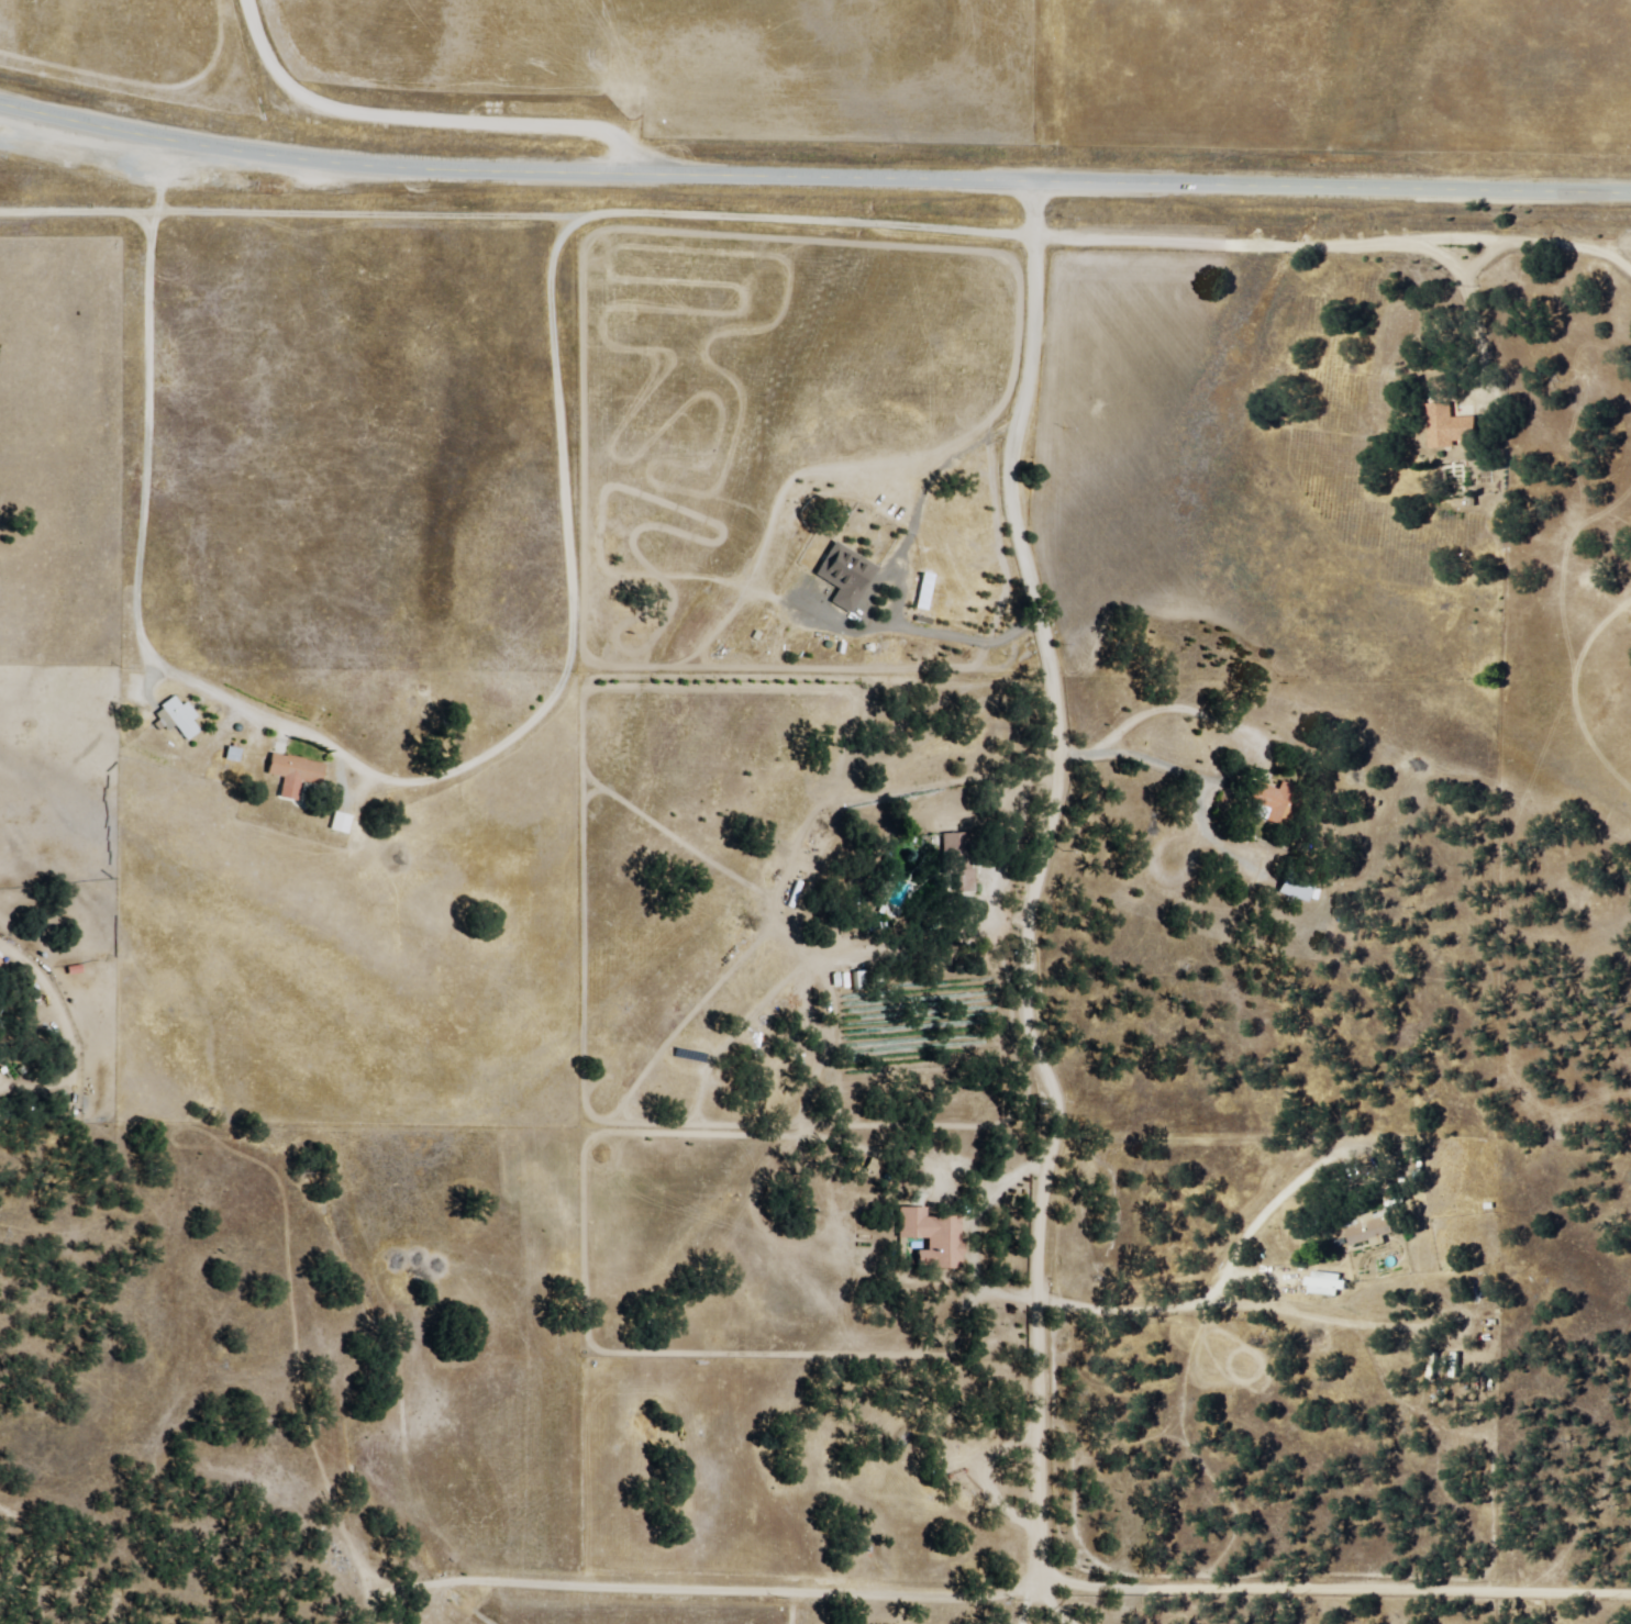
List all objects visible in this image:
road: (812, 181)
road: (815, 218)
building: (1452, 427)
road: (540, 625)
building: (176, 719)
building: (292, 775)
building: (1272, 804)
building: (956, 864)
building: (1292, 889)
building: (883, 894)
building: (858, 981)
road: (1466, 1065)
building: (1373, 1232)
building: (932, 1237)
road: (190, 1248)
building: (1325, 1284)
building: (958, 1464)

